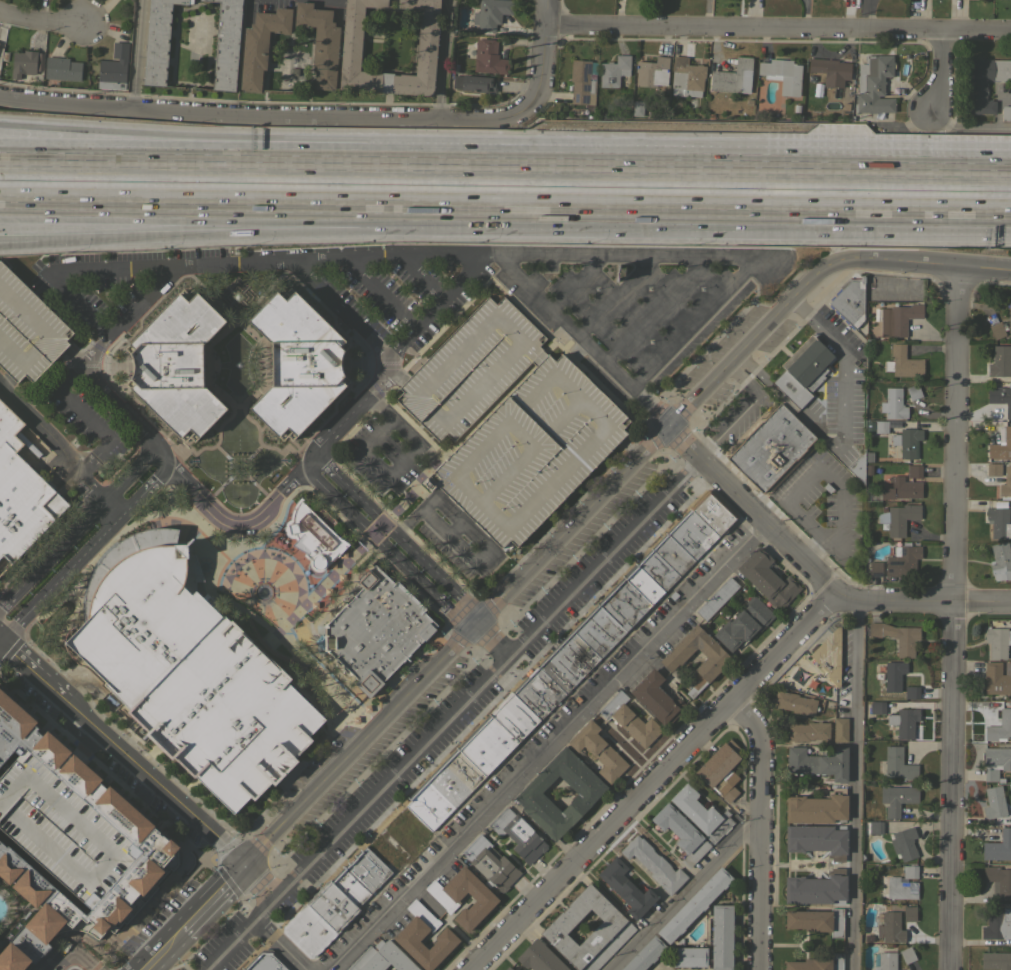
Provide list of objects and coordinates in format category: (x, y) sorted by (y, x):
building: (210, 1)
building: (490, 13)
road: (40, 19)
road: (777, 27)
building: (351, 40)
building: (157, 41)
building: (320, 42)
building: (226, 44)
building: (260, 45)
road: (542, 52)
road: (135, 54)
building: (488, 57)
road: (444, 59)
building: (23, 63)
building: (62, 68)
building: (113, 68)
rooftop solar panel: (585, 70)
building: (613, 70)
building: (831, 70)
building: (652, 72)
road: (946, 73)
building: (782, 75)
building: (730, 76)
building: (686, 77)
building: (580, 81)
building: (474, 83)
building: (983, 83)
building: (874, 84)
rooftop solar panel: (465, 86)
rooftop solar panel: (584, 87)
rooftop solar panel: (481, 90)
rooftop solar panel: (571, 99)
rooftop solar panel: (585, 99)
building: (637, 108)
building: (1006, 113)
road: (267, 116)
road: (968, 131)
road: (263, 144)
road: (263, 160)
road: (769, 165)
railway: (505, 188)
road: (236, 208)
road: (741, 213)
road: (305, 222)
road: (69, 232)
road: (69, 238)
road: (386, 256)
road: (706, 258)
road: (927, 266)
road: (71, 271)
road: (529, 284)
road: (318, 289)
building: (849, 301)
building: (900, 317)
building: (1009, 317)
building: (27, 329)
parking garage: (27, 329)
building: (996, 331)
building: (1000, 361)
building: (902, 362)
building: (297, 364)
building: (176, 365)
building: (470, 368)
parking lot: (470, 368)
building: (801, 373)
road: (759, 374)
road: (747, 379)
road: (843, 391)
building: (913, 392)
building: (1001, 397)
road: (786, 403)
building: (894, 403)
road: (121, 405)
road: (735, 420)
building: (880, 426)
building: (907, 442)
building: (1001, 445)
building: (770, 447)
road: (708, 448)
road: (60, 451)
building: (529, 451)
parking lot: (529, 451)
building: (860, 465)
building: (993, 469)
building: (914, 471)
road: (832, 479)
building: (1006, 483)
building: (902, 488)
building: (21, 493)
building: (713, 512)
building: (897, 518)
building: (998, 522)
road: (79, 528)
road: (443, 534)
building: (692, 534)
building: (313, 535)
road: (394, 541)
road: (86, 550)
rooftop solar panel: (904, 553)
building: (673, 554)
road: (605, 558)
road: (542, 559)
building: (902, 561)
building: (1000, 561)
rooftop solar panel: (892, 563)
building: (875, 568)
building: (658, 570)
road: (813, 573)
rooftop solar panel: (878, 576)
building: (767, 578)
building: (643, 583)
building: (717, 598)
building: (623, 604)
road: (951, 619)
building: (743, 623)
building: (376, 628)
building: (896, 637)
building: (997, 641)
building: (828, 655)
building: (714, 661)
building: (569, 662)
road: (25, 665)
building: (189, 669)
building: (997, 678)
building: (895, 679)
building: (657, 698)
building: (795, 703)
building: (877, 707)
building: (514, 715)
building: (9, 719)
building: (629, 719)
building: (903, 722)
building: (1000, 727)
building: (840, 730)
building: (807, 731)
road: (107, 740)
building: (487, 744)
road: (542, 745)
building: (38, 749)
building: (597, 750)
building: (996, 762)
building: (818, 763)
building: (898, 764)
road: (398, 770)
building: (720, 770)
building: (67, 773)
road: (649, 782)
road: (852, 784)
building: (444, 788)
building: (529, 795)
building: (897, 798)
building: (995, 804)
building: (817, 807)
building: (701, 813)
building: (874, 826)
road: (203, 829)
road: (757, 829)
building: (517, 833)
building: (681, 834)
building: (397, 836)
building: (817, 839)
building: (903, 843)
building: (998, 846)
building: (0, 859)
building: (489, 863)
building: (654, 864)
building: (109, 865)
building: (367, 869)
building: (909, 871)
building: (998, 881)
road: (258, 882)
building: (350, 887)
building: (14, 888)
building: (626, 888)
building: (817, 888)
building: (900, 888)
road: (684, 894)
building: (446, 896)
road: (212, 898)
building: (693, 905)
building: (332, 906)
building: (909, 913)
building: (817, 921)
building: (997, 924)
building: (31, 925)
building: (614, 925)
building: (890, 927)
building: (307, 930)
building: (409, 934)
building: (721, 937)
road: (230, 942)
road: (280, 942)
road: (162, 950)
building: (645, 954)
building: (907, 954)
building: (689, 956)
building: (539, 957)
building: (382, 958)
road: (73, 959)
building: (995, 960)
building: (886, 961)
building: (264, 962)
building: (816, 963)
building: (507, 968)
building: (243, 969)
building: (500, 969)

